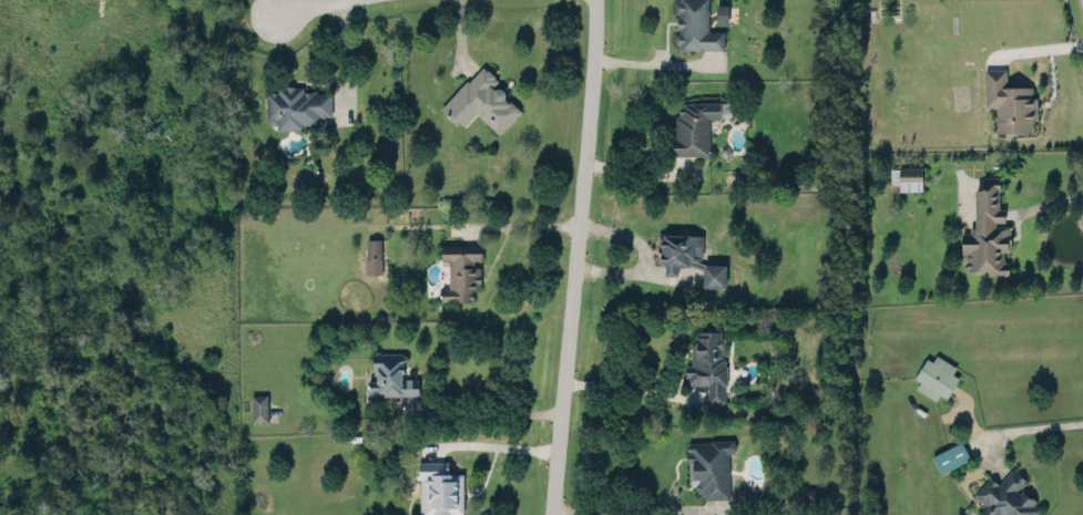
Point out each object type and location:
road: (309, 7)
building: (721, 11)
building: (695, 27)
road: (1035, 44)
road: (653, 61)
building: (1007, 97)
building: (481, 100)
building: (296, 105)
building: (693, 124)
road: (635, 165)
building: (906, 176)
road: (1048, 200)
road: (520, 223)
road: (643, 254)
building: (372, 255)
building: (688, 255)
road: (573, 257)
building: (707, 362)
building: (936, 375)
building: (390, 378)
road: (626, 383)
building: (258, 406)
road: (491, 411)
road: (1028, 424)
road: (493, 443)
building: (950, 455)
building: (709, 465)
building: (439, 488)
building: (1004, 495)
road: (633, 507)

